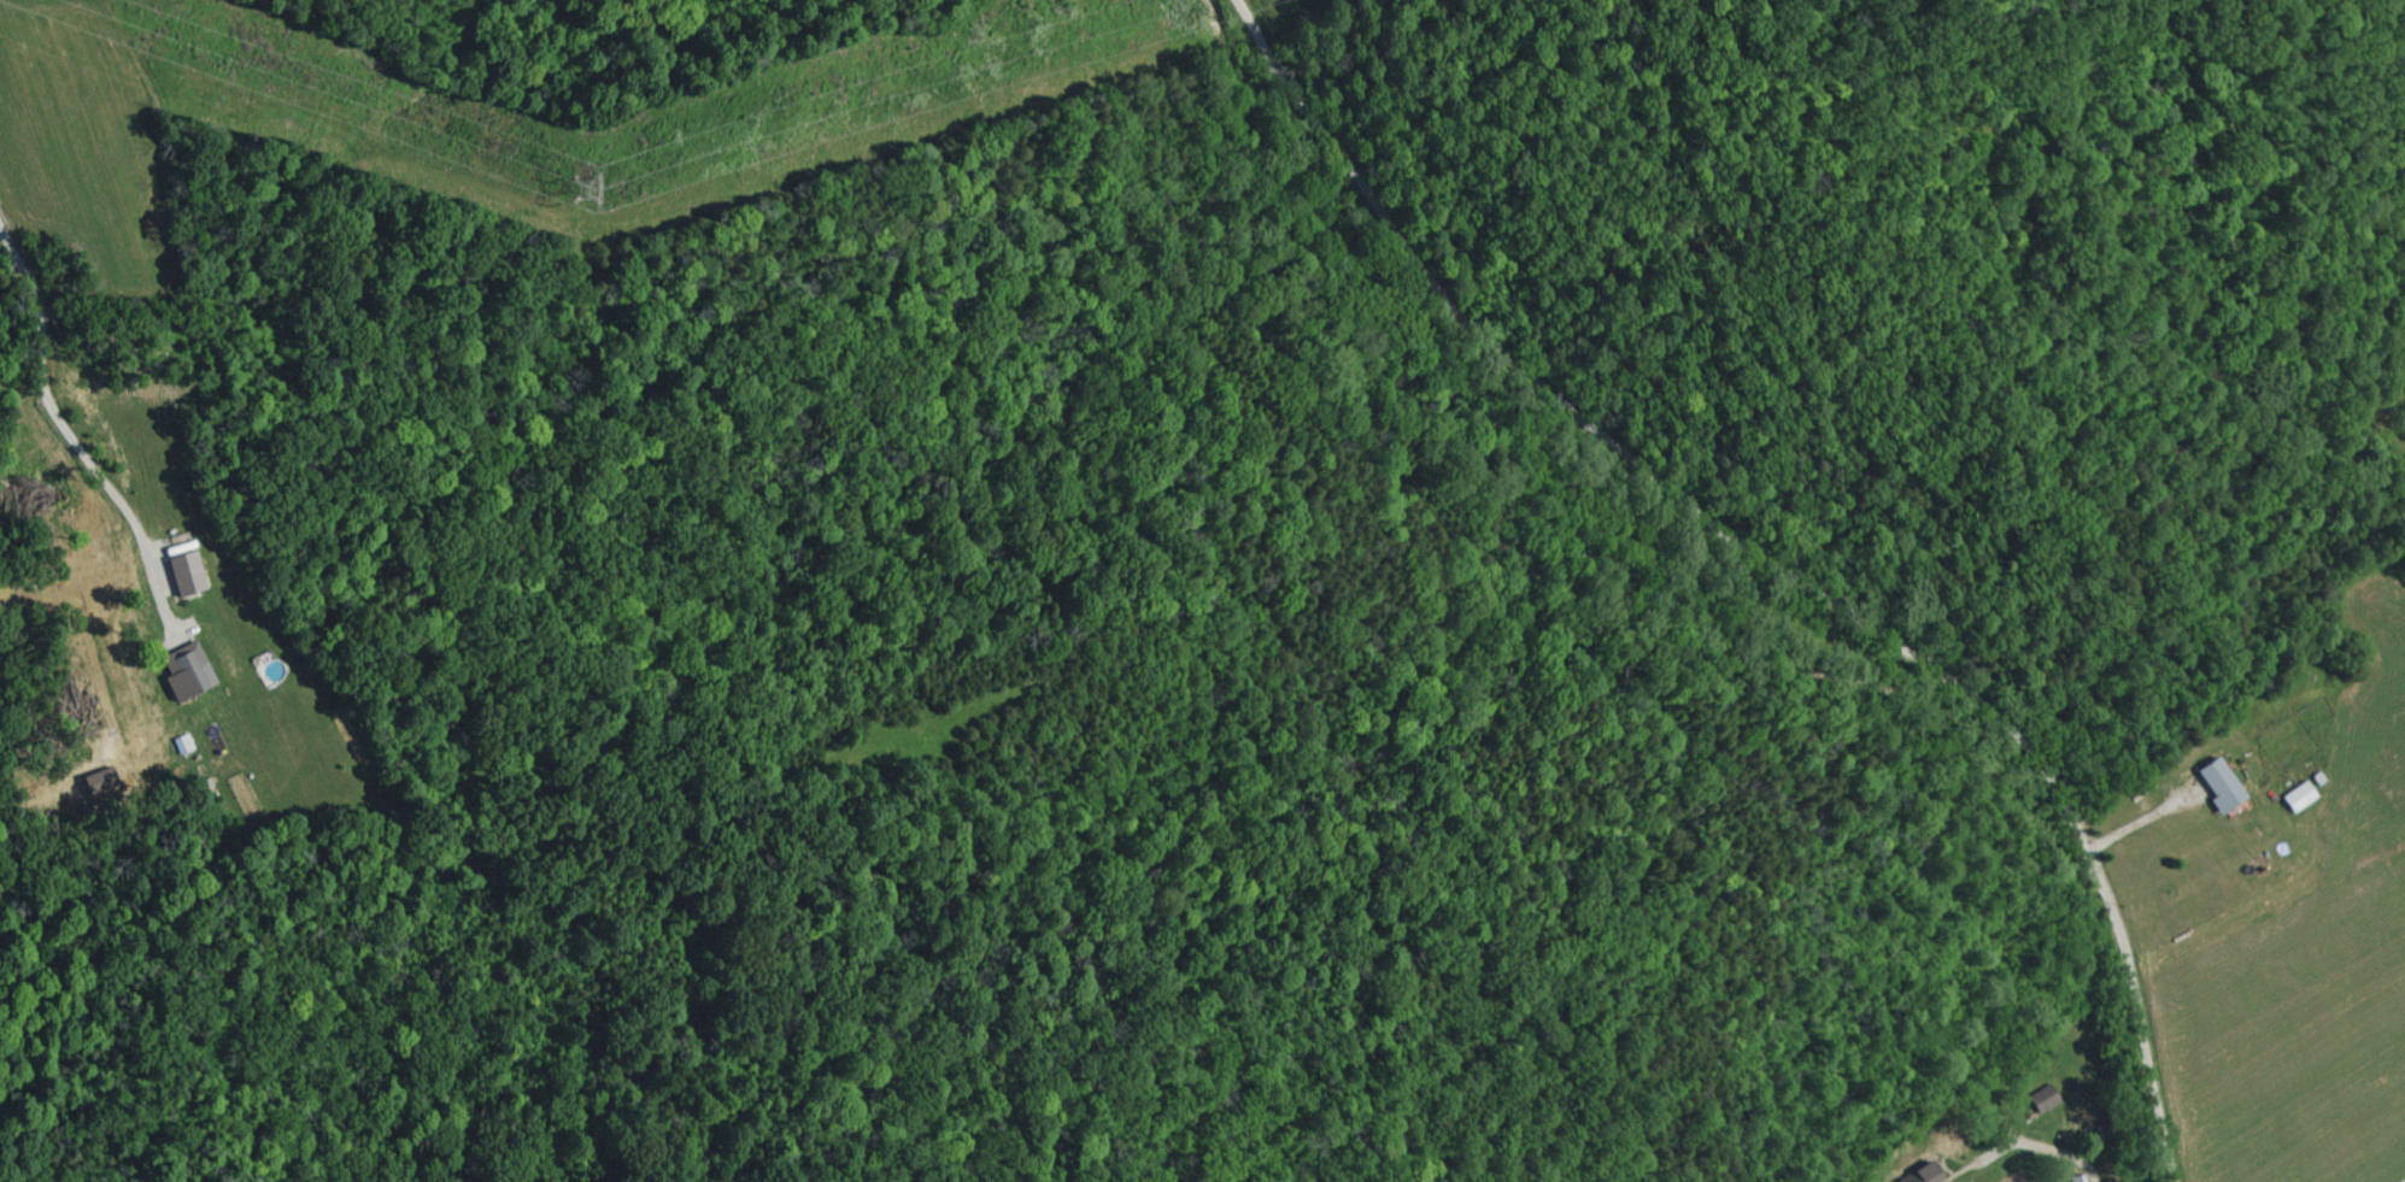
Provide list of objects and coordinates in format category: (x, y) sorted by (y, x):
power tower: (594, 188)
road: (53, 411)
crop: (2393, 442)
road: (1761, 564)
building: (180, 572)
building: (186, 669)
building: (180, 743)
building: (2216, 787)
building: (2294, 799)
crop: (2277, 917)
building: (2039, 1100)
road: (2037, 1146)
building: (1919, 1175)

